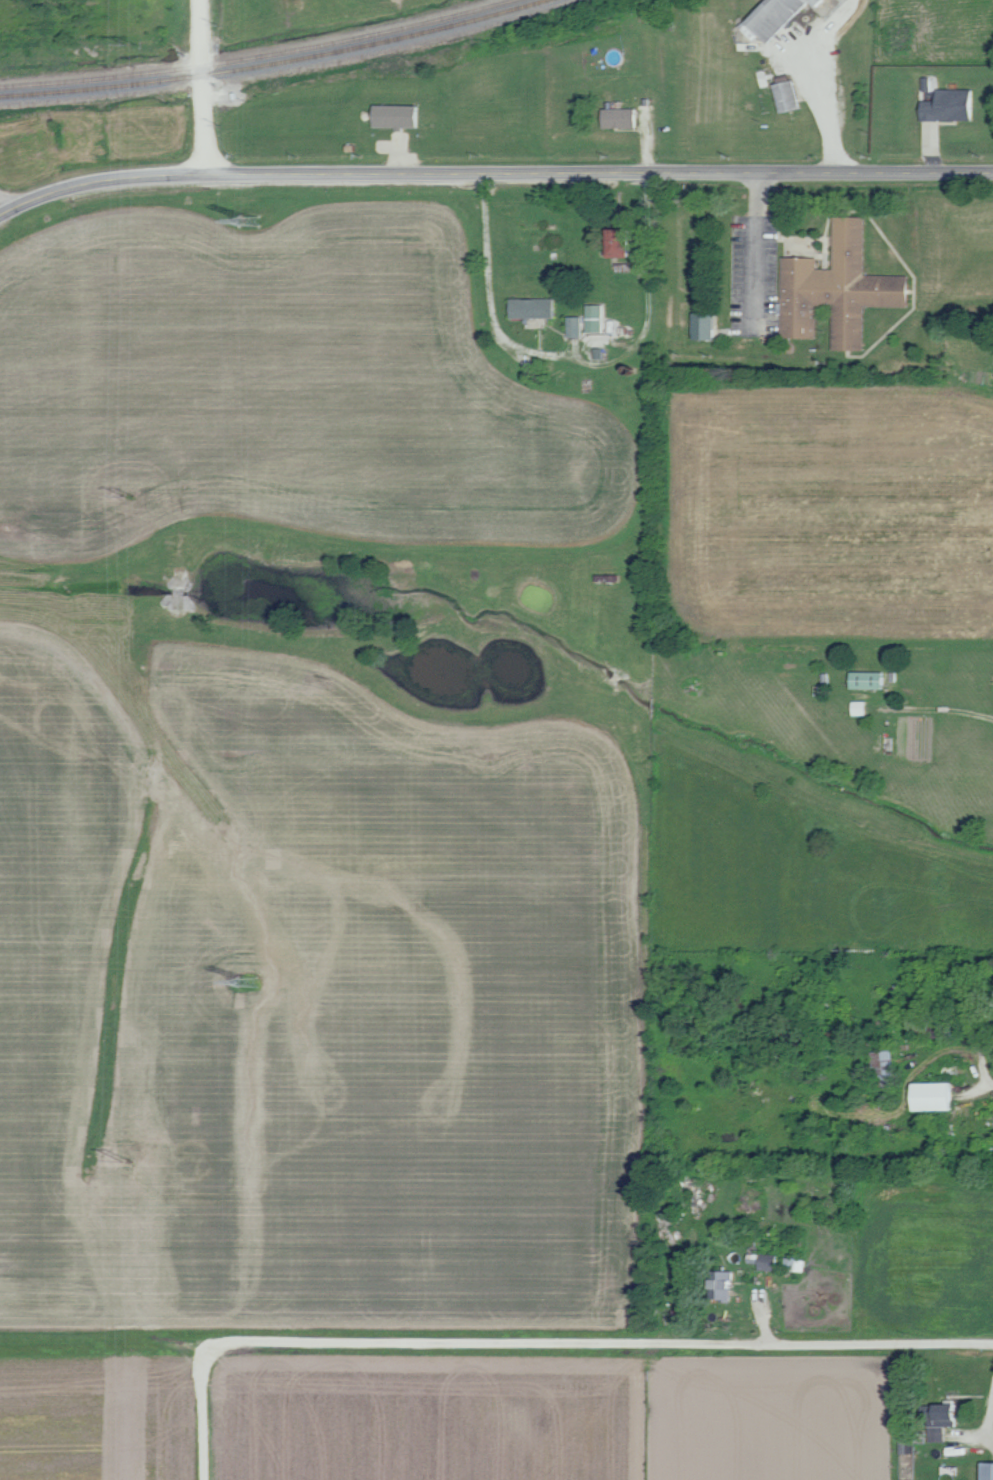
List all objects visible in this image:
building: (779, 16)
railway: (252, 54)
railway: (274, 63)
road: (202, 86)
building: (789, 96)
building: (951, 106)
building: (399, 117)
building: (622, 118)
road: (951, 170)
road: (451, 174)
power tower: (247, 220)
building: (625, 241)
road: (753, 253)
building: (839, 289)
building: (535, 308)
building: (597, 319)
building: (707, 326)
building: (576, 327)
road: (572, 358)
building: (871, 680)
power tower: (251, 982)
building: (884, 1062)
road: (979, 1088)
building: (936, 1095)
building: (797, 1264)
building: (725, 1285)
road: (600, 1343)
road: (989, 1416)
building: (946, 1420)
building: (988, 1470)

